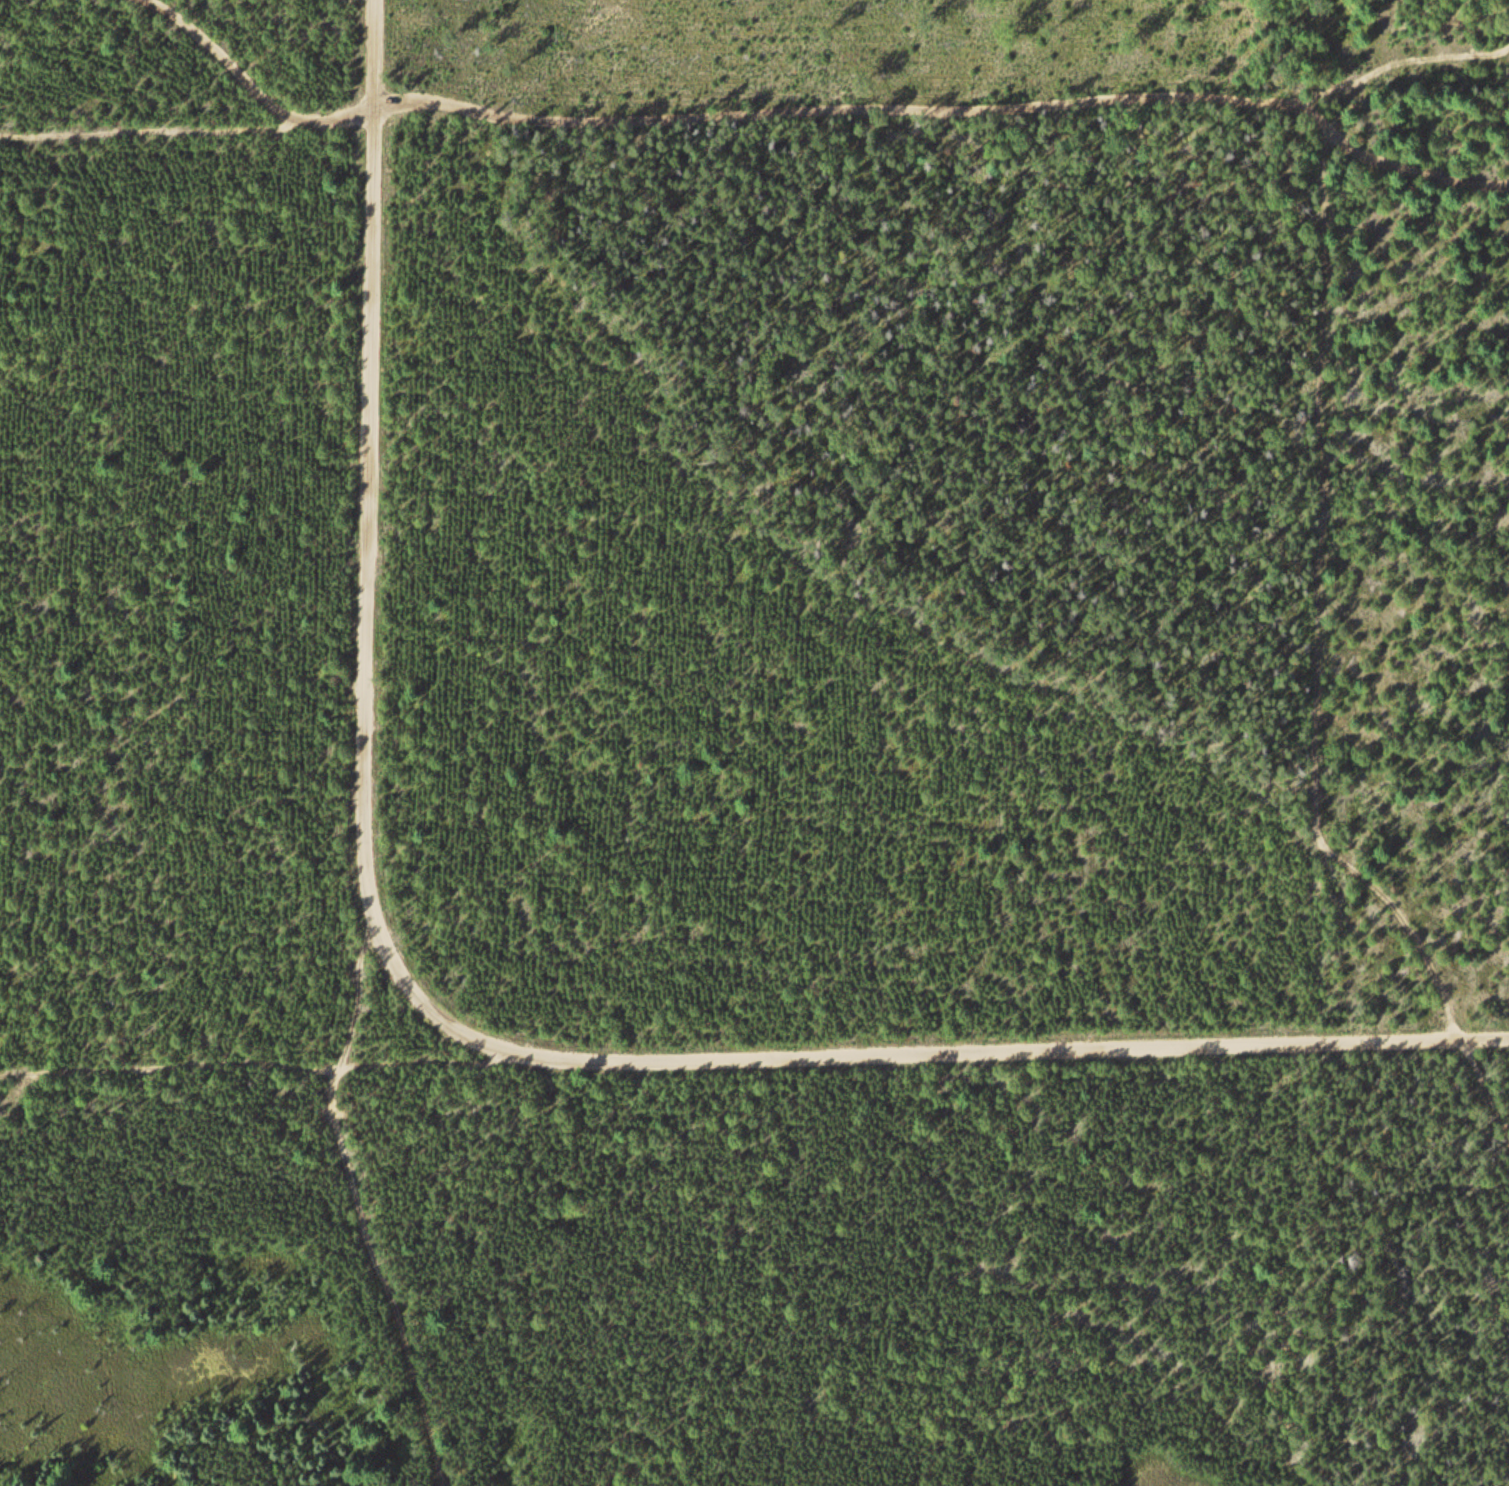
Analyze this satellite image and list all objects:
road: (1459, 54)
road: (811, 105)
road: (790, 564)
road: (458, 1022)
road: (265, 1073)
road: (361, 1207)

